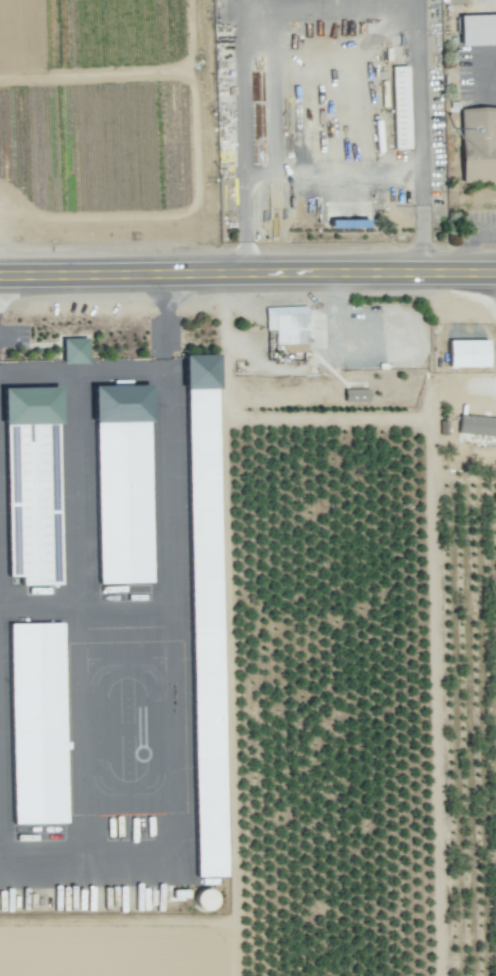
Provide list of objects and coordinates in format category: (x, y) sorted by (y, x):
road: (327, 8)
building: (479, 33)
building: (400, 107)
building: (479, 147)
road: (382, 176)
road: (243, 227)
road: (467, 239)
road: (248, 276)
building: (288, 327)
building: (74, 350)
building: (467, 353)
road: (289, 363)
building: (355, 395)
road: (337, 420)
building: (476, 425)
building: (31, 484)
building: (122, 484)
building: (205, 615)
road: (180, 658)
building: (36, 723)

